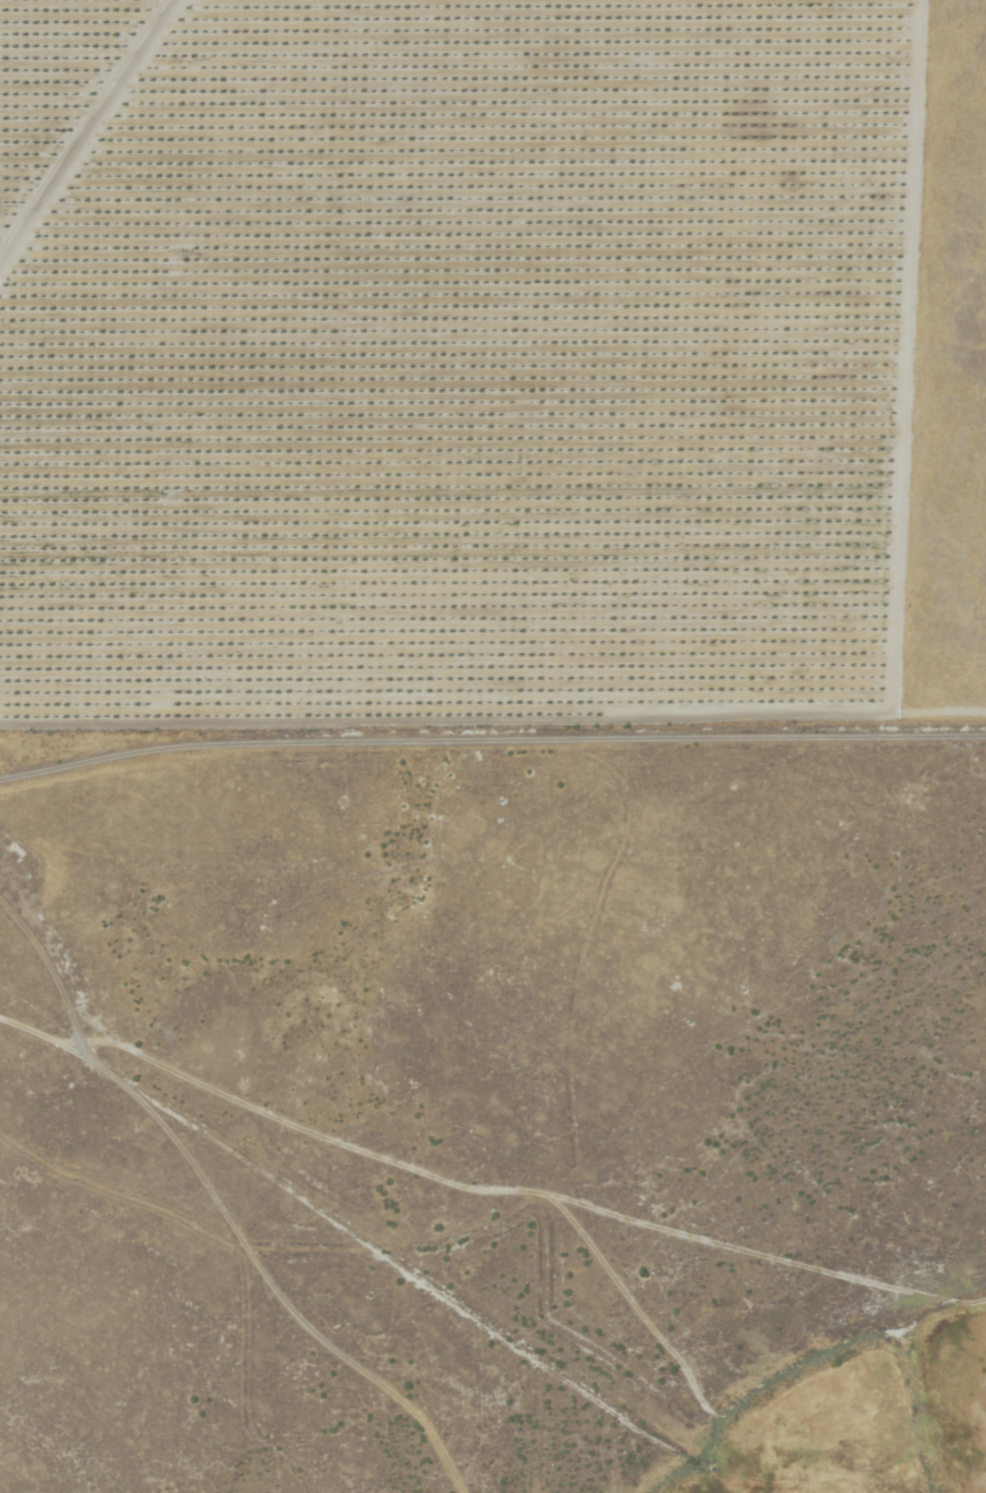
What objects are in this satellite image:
crop: (52, 78)
crop: (459, 367)
road: (493, 744)

